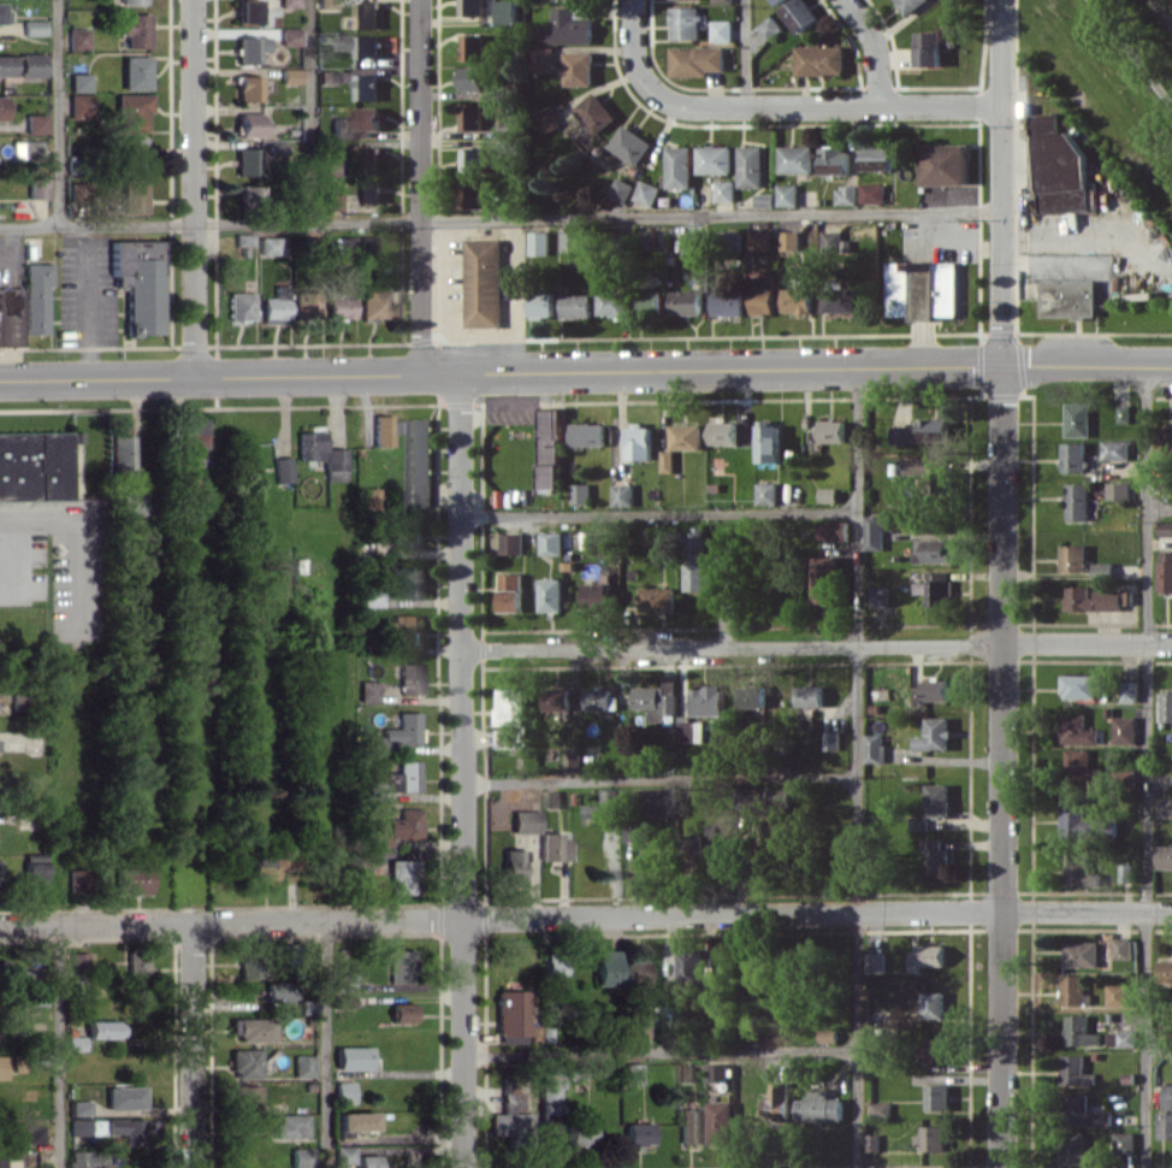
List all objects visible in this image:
building: (582, 0)
building: (131, 1)
building: (722, 1)
building: (776, 1)
building: (288, 2)
building: (1170, 2)
building: (327, 4)
building: (910, 4)
building: (472, 7)
building: (245, 11)
building: (507, 11)
building: (2, 12)
road: (1161, 12)
building: (800, 13)
road: (857, 16)
building: (683, 22)
building: (32, 26)
building: (568, 26)
building: (769, 28)
building: (135, 29)
building: (721, 30)
building: (289, 36)
building: (76, 39)
building: (361, 43)
building: (934, 45)
building: (473, 47)
building: (248, 48)
road: (1131, 52)
road: (745, 54)
road: (632, 55)
building: (543, 57)
building: (821, 59)
building: (697, 60)
building: (31, 64)
building: (5, 65)
building: (579, 67)
road: (877, 67)
building: (134, 72)
building: (289, 75)
building: (326, 76)
building: (470, 78)
building: (78, 82)
building: (367, 87)
building: (247, 88)
building: (78, 106)
building: (1, 107)
road: (830, 107)
building: (130, 111)
road: (306, 111)
building: (594, 112)
road: (55, 113)
building: (470, 116)
building: (368, 118)
building: (34, 123)
building: (1043, 123)
building: (248, 124)
building: (341, 126)
building: (629, 144)
building: (274, 147)
building: (29, 148)
building: (131, 151)
building: (795, 158)
building: (877, 158)
building: (371, 159)
building: (474, 159)
building: (714, 159)
building: (245, 160)
building: (835, 160)
building: (945, 164)
building: (332, 165)
building: (679, 166)
building: (751, 166)
building: (1061, 171)
road: (420, 185)
building: (35, 187)
road: (190, 187)
building: (621, 189)
building: (723, 189)
building: (368, 190)
building: (75, 191)
building: (646, 191)
building: (247, 193)
building: (872, 193)
building: (472, 194)
building: (787, 194)
building: (846, 194)
building: (132, 195)
building: (764, 199)
building: (333, 201)
road: (501, 219)
building: (759, 237)
building: (242, 238)
building: (789, 240)
building: (570, 241)
building: (539, 242)
building: (691, 242)
building: (831, 242)
building: (267, 244)
building: (344, 244)
building: (484, 282)
building: (137, 283)
building: (922, 289)
road: (513, 294)
building: (34, 296)
building: (1067, 297)
building: (652, 299)
building: (764, 300)
building: (797, 300)
building: (839, 300)
building: (339, 301)
building: (686, 301)
building: (612, 302)
building: (728, 302)
building: (374, 303)
building: (239, 305)
building: (543, 305)
building: (576, 305)
building: (274, 306)
building: (306, 307)
building: (8, 317)
road: (585, 368)
building: (1124, 413)
building: (1078, 419)
building: (384, 429)
building: (829, 431)
building: (921, 431)
building: (723, 432)
building: (588, 433)
building: (686, 436)
building: (1165, 440)
building: (193, 441)
building: (769, 441)
building: (639, 442)
building: (551, 448)
building: (1114, 449)
building: (118, 450)
building: (320, 454)
building: (1073, 456)
building: (668, 460)
building: (419, 461)
building: (34, 465)
building: (928, 467)
building: (280, 468)
building: (1118, 490)
building: (580, 492)
building: (766, 492)
building: (828, 494)
building: (623, 495)
building: (366, 499)
building: (1077, 501)
building: (132, 503)
road: (1160, 511)
road: (658, 515)
building: (1165, 527)
building: (833, 530)
building: (874, 532)
building: (398, 536)
road: (75, 541)
building: (599, 541)
building: (511, 542)
building: (551, 543)
building: (934, 550)
building: (1073, 558)
building: (694, 559)
road: (22, 566)
building: (1102, 570)
building: (1165, 571)
building: (404, 580)
building: (825, 580)
road: (1004, 583)
building: (936, 588)
building: (510, 591)
building: (551, 594)
building: (371, 595)
building: (880, 595)
building: (598, 596)
building: (657, 597)
building: (1093, 598)
road: (816, 647)
building: (409, 678)
building: (1079, 686)
building: (367, 690)
building: (931, 690)
building: (1129, 691)
building: (810, 695)
building: (558, 697)
building: (600, 700)
building: (706, 700)
building: (1166, 707)
building: (511, 718)
building: (1076, 728)
building: (1124, 730)
building: (691, 731)
building: (935, 733)
building: (831, 739)
building: (875, 748)
building: (572, 760)
road: (857, 766)
road: (1149, 766)
road: (461, 768)
building: (1081, 768)
building: (395, 779)
road: (658, 779)
road: (1161, 780)
building: (776, 796)
building: (662, 800)
building: (937, 800)
building: (605, 804)
building: (1164, 807)
building: (1075, 818)
building: (525, 820)
building: (919, 822)
building: (399, 827)
building: (635, 831)
building: (722, 834)
building: (554, 846)
building: (1164, 856)
building: (935, 857)
building: (511, 865)
building: (32, 869)
building: (262, 869)
building: (1079, 871)
building: (399, 875)
building: (77, 878)
building: (132, 879)
road: (586, 916)
building: (1121, 948)
building: (295, 952)
building: (1082, 954)
building: (929, 956)
building: (78, 960)
building: (875, 962)
building: (136, 965)
building: (248, 965)
building: (399, 966)
building: (691, 966)
building: (605, 967)
building: (552, 971)
building: (1165, 971)
building: (635, 972)
building: (342, 981)
building: (1073, 990)
building: (1117, 995)
building: (34, 996)
building: (342, 1002)
building: (934, 1004)
building: (401, 1011)
building: (510, 1011)
building: (637, 1027)
building: (102, 1028)
building: (249, 1028)
building: (1079, 1031)
building: (828, 1034)
building: (1121, 1038)
building: (73, 1043)
road: (57, 1044)
road: (189, 1044)
road: (324, 1044)
road: (1159, 1048)
building: (937, 1050)
road: (659, 1051)
building: (351, 1057)
building: (243, 1063)
building: (301, 1064)
building: (1, 1066)
building: (1075, 1069)
building: (685, 1072)
building: (718, 1072)
building: (631, 1073)
building: (549, 1086)
building: (342, 1091)
building: (243, 1096)
building: (1167, 1096)
building: (123, 1097)
building: (937, 1097)
building: (777, 1103)
building: (819, 1105)
building: (78, 1107)
building: (881, 1108)
building: (1077, 1108)
building: (509, 1117)
building: (1103, 1117)
building: (354, 1120)
building: (720, 1122)
building: (290, 1125)
building: (688, 1125)
building: (1165, 1125)
building: (78, 1126)
building: (125, 1129)
building: (31, 1133)
building: (580, 1133)
building: (637, 1133)
building: (933, 1137)
building: (1124, 1143)
building: (1073, 1148)
building: (343, 1154)
building: (298, 1157)
building: (85, 1158)
building: (367, 1161)
building: (1, 1162)

